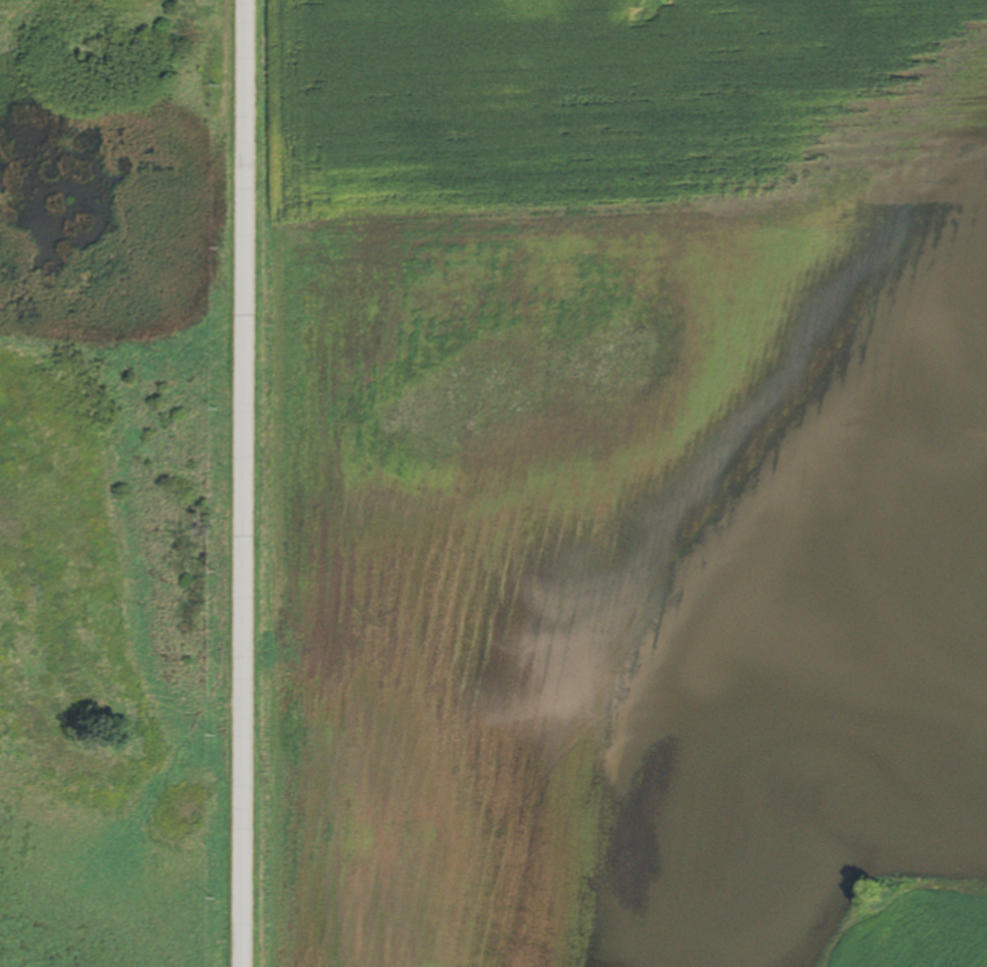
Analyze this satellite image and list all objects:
road: (245, 483)

